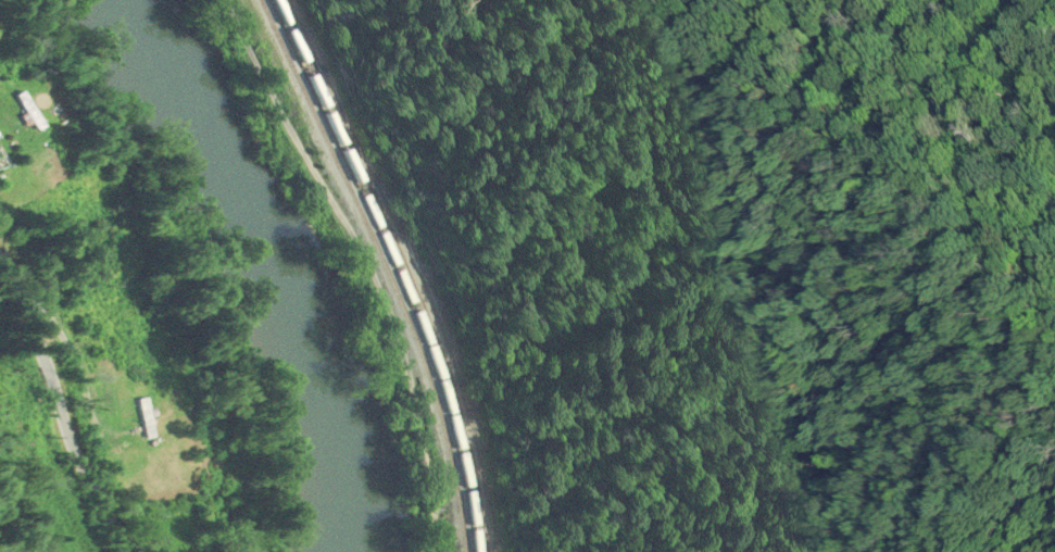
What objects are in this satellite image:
building: (27, 113)
building: (1, 165)
river: (264, 266)
railway: (405, 267)
railway: (385, 268)
railway: (394, 268)
road: (360, 269)
building: (115, 347)
road: (52, 400)
building: (142, 419)

